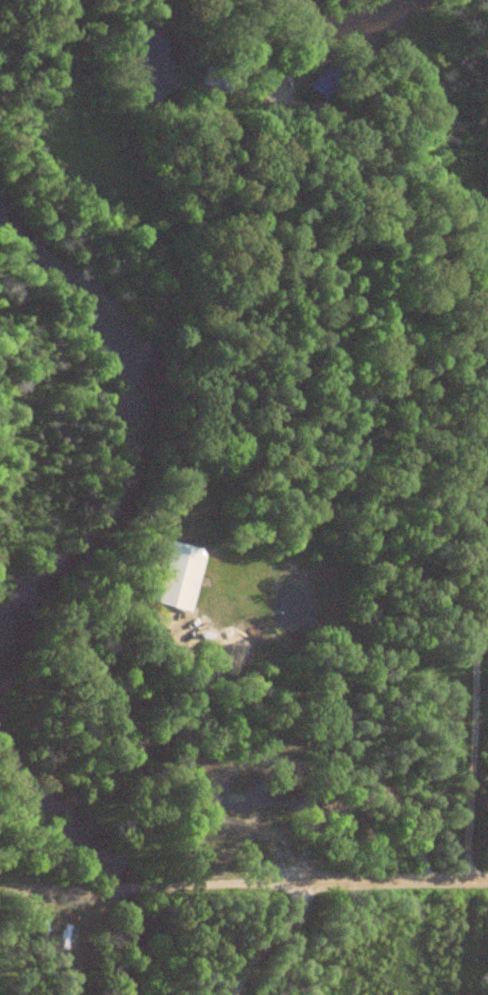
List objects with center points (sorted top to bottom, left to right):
river: (347, 17)
building: (318, 84)
road: (399, 211)
river: (146, 436)
road: (474, 713)
road: (287, 760)
building: (217, 846)
river: (96, 849)
road: (344, 887)
road: (275, 944)

